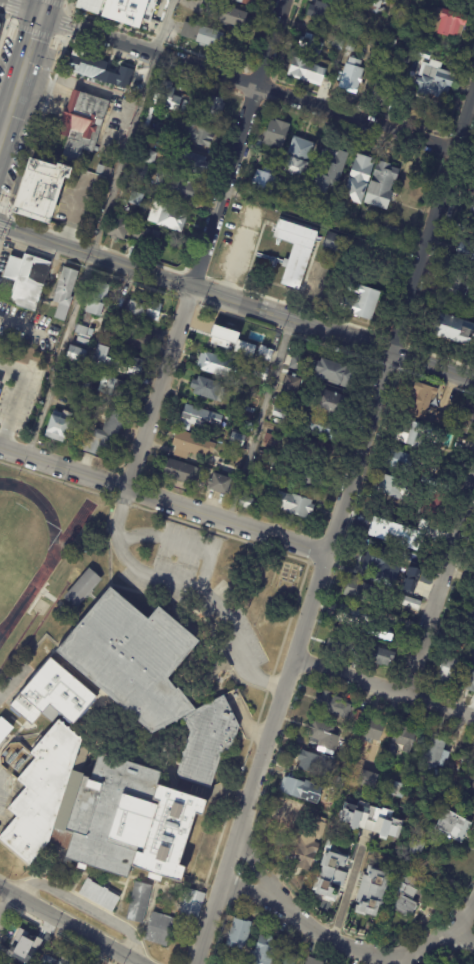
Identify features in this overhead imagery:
building: (342, 1)
building: (406, 1)
building: (244, 3)
building: (373, 6)
road: (20, 10)
building: (124, 12)
building: (326, 15)
traffic signals: (41, 17)
building: (228, 17)
building: (449, 24)
building: (0, 26)
building: (203, 37)
building: (334, 42)
building: (393, 44)
building: (312, 45)
building: (350, 46)
building: (386, 58)
road: (373, 60)
building: (408, 60)
building: (91, 66)
road: (24, 67)
building: (311, 74)
building: (352, 78)
building: (110, 79)
building: (133, 79)
building: (435, 83)
road: (249, 86)
building: (118, 87)
building: (192, 87)
building: (385, 87)
railway: (28, 89)
building: (167, 96)
building: (215, 110)
building: (83, 124)
building: (144, 127)
building: (163, 131)
building: (195, 133)
building: (277, 134)
road: (1, 140)
building: (260, 144)
building: (145, 156)
building: (300, 156)
building: (189, 164)
building: (331, 169)
building: (105, 170)
building: (138, 171)
building: (361, 178)
building: (265, 181)
building: (302, 185)
building: (383, 185)
building: (185, 189)
building: (43, 191)
building: (137, 199)
building: (169, 216)
road: (324, 222)
road: (99, 228)
building: (132, 231)
building: (391, 231)
road: (432, 232)
building: (336, 242)
road: (204, 244)
building: (297, 247)
building: (467, 252)
building: (25, 280)
building: (67, 287)
road: (195, 288)
building: (460, 289)
building: (98, 299)
building: (364, 302)
building: (466, 305)
building: (145, 309)
building: (116, 319)
road: (18, 323)
building: (60, 328)
building: (456, 330)
building: (86, 331)
building: (54, 339)
building: (138, 340)
building: (83, 341)
building: (231, 341)
building: (266, 354)
building: (78, 356)
building: (236, 358)
building: (119, 363)
building: (298, 364)
building: (218, 365)
road: (432, 368)
building: (335, 372)
building: (262, 373)
building: (0, 382)
building: (83, 388)
building: (290, 388)
building: (209, 389)
building: (122, 390)
building: (424, 401)
building: (334, 404)
building: (281, 412)
building: (248, 414)
building: (466, 416)
building: (200, 417)
building: (443, 420)
road: (258, 422)
building: (248, 425)
building: (59, 426)
building: (324, 428)
building: (106, 435)
building: (417, 435)
building: (238, 440)
building: (452, 442)
building: (270, 444)
building: (192, 446)
building: (317, 451)
road: (356, 456)
building: (275, 462)
building: (403, 462)
building: (222, 465)
building: (182, 473)
building: (220, 485)
building: (396, 489)
road: (161, 500)
building: (246, 503)
building: (294, 505)
building: (392, 510)
building: (385, 526)
building: (395, 535)
road: (183, 545)
parking lot: (184, 553)
building: (415, 559)
track: (48, 561)
building: (376, 564)
building: (415, 575)
building: (409, 579)
building: (394, 581)
road: (438, 581)
building: (80, 586)
road: (184, 590)
building: (363, 592)
building: (411, 604)
building: (470, 618)
building: (364, 623)
building: (406, 626)
parking lot: (235, 640)
building: (385, 658)
building: (449, 669)
building: (148, 678)
building: (470, 679)
road: (12, 682)
road: (386, 685)
building: (50, 694)
building: (334, 706)
building: (361, 718)
building: (4, 728)
building: (375, 730)
building: (324, 738)
building: (406, 740)
building: (436, 753)
road: (259, 760)
building: (456, 765)
building: (317, 766)
building: (438, 776)
building: (369, 781)
parking lot: (4, 784)
building: (399, 791)
building: (303, 792)
building: (472, 795)
building: (473, 801)
building: (98, 810)
building: (283, 821)
building: (373, 822)
building: (450, 826)
building: (414, 851)
building: (306, 855)
building: (332, 879)
building: (99, 893)
road: (345, 893)
building: (374, 896)
building: (406, 897)
building: (135, 901)
road: (8, 907)
building: (189, 907)
building: (441, 907)
road: (84, 910)
building: (157, 926)
road: (67, 927)
road: (305, 930)
road: (466, 931)
building: (240, 933)
road: (447, 933)
building: (15, 941)
building: (265, 951)
building: (288, 958)
building: (48, 960)
building: (66, 961)
building: (313, 961)
building: (229, 962)
building: (8, 963)
building: (12, 963)
building: (33, 963)
building: (225, 963)
building: (440, 963)
building: (445, 963)

